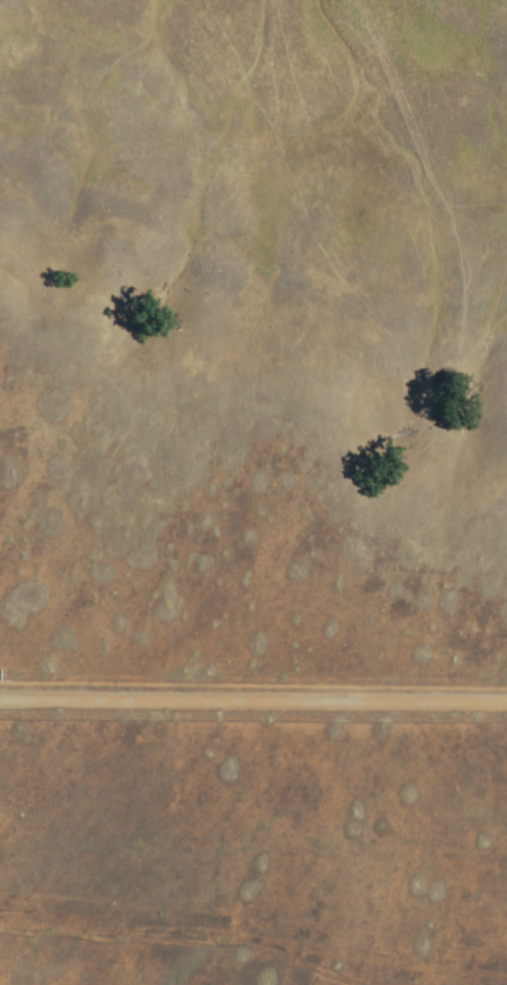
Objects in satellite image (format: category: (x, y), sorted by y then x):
road: (253, 698)

